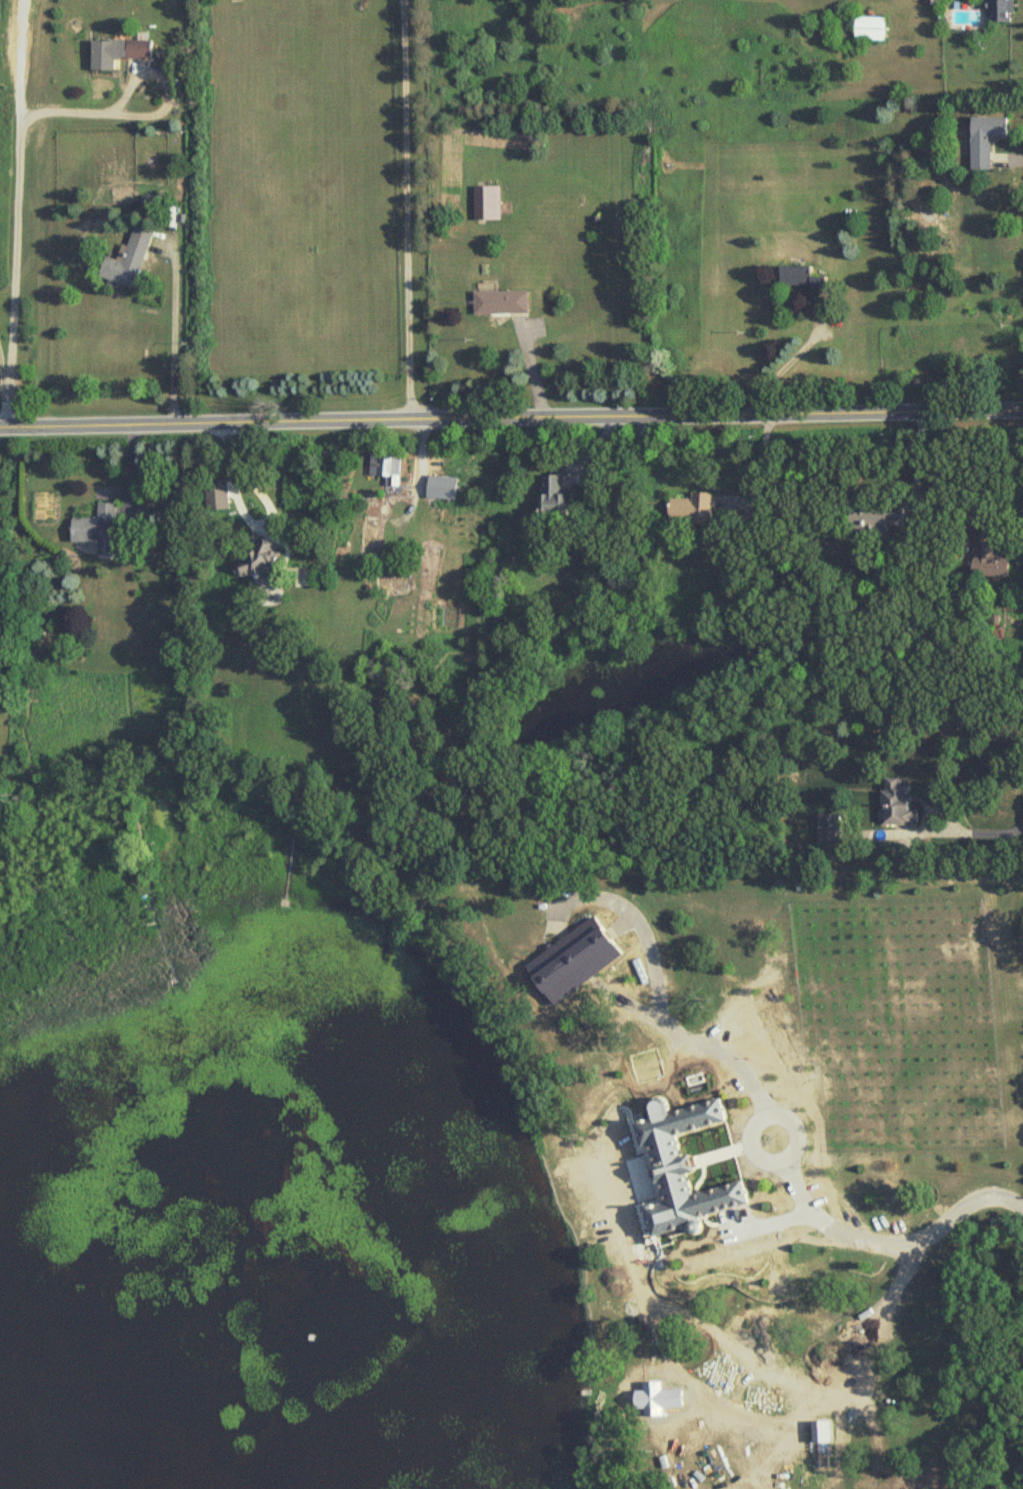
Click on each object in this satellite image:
building: (1006, 11)
building: (868, 29)
building: (144, 49)
building: (108, 56)
building: (991, 139)
road: (16, 150)
building: (156, 199)
building: (490, 202)
road: (408, 209)
building: (130, 258)
building: (809, 278)
building: (508, 302)
road: (174, 331)
road: (785, 361)
building: (219, 388)
road: (511, 417)
building: (389, 468)
building: (220, 492)
building: (555, 499)
building: (687, 509)
building: (885, 519)
building: (98, 529)
road: (1017, 529)
building: (373, 536)
building: (992, 555)
building: (261, 559)
building: (909, 802)
road: (292, 826)
building: (827, 827)
road: (136, 828)
road: (940, 828)
road: (289, 857)
road: (588, 892)
building: (735, 897)
building: (572, 960)
road: (634, 1007)
building: (824, 1067)
road: (792, 1138)
road: (749, 1144)
building: (679, 1162)

